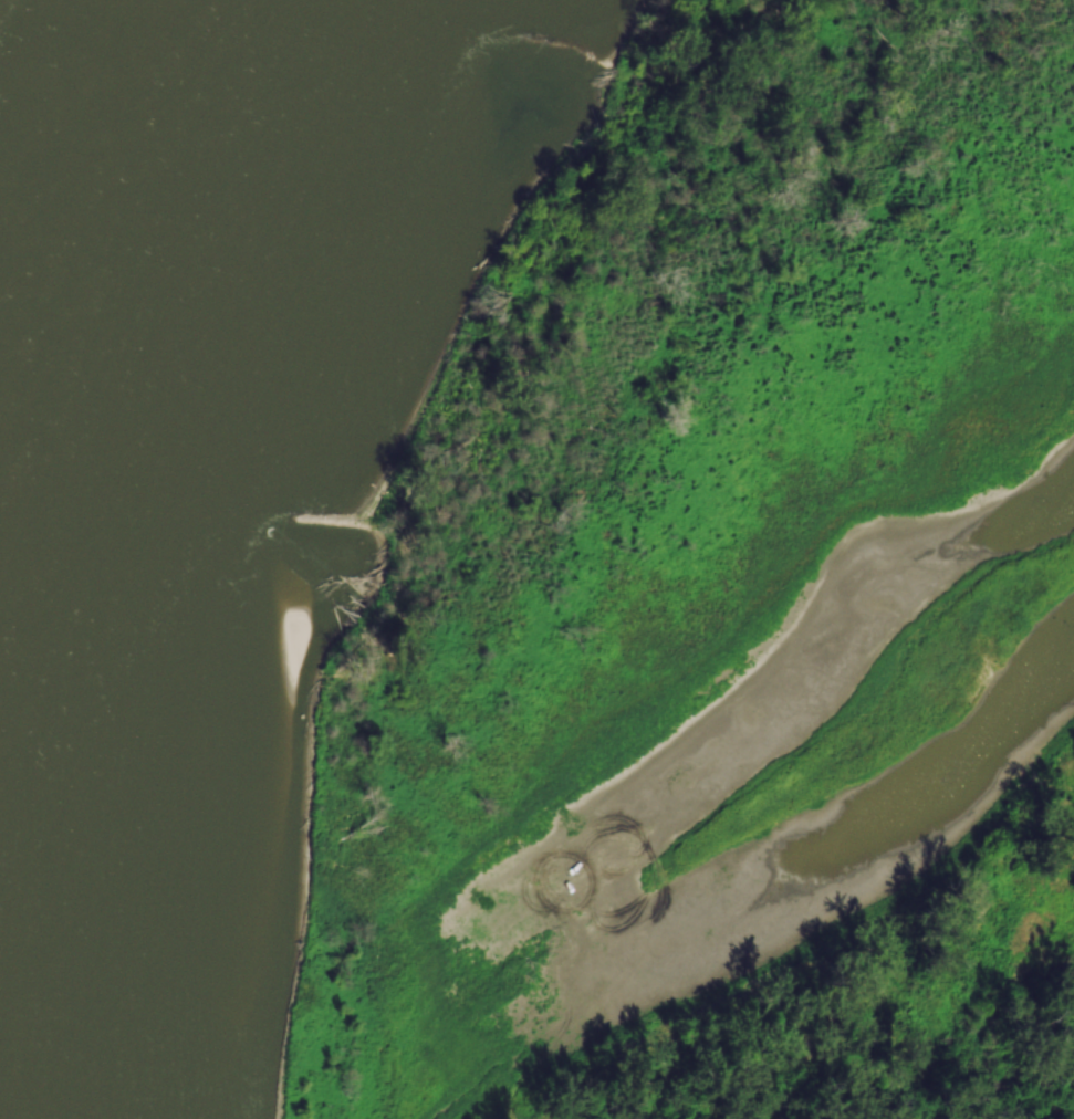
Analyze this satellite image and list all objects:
river: (75, 407)

